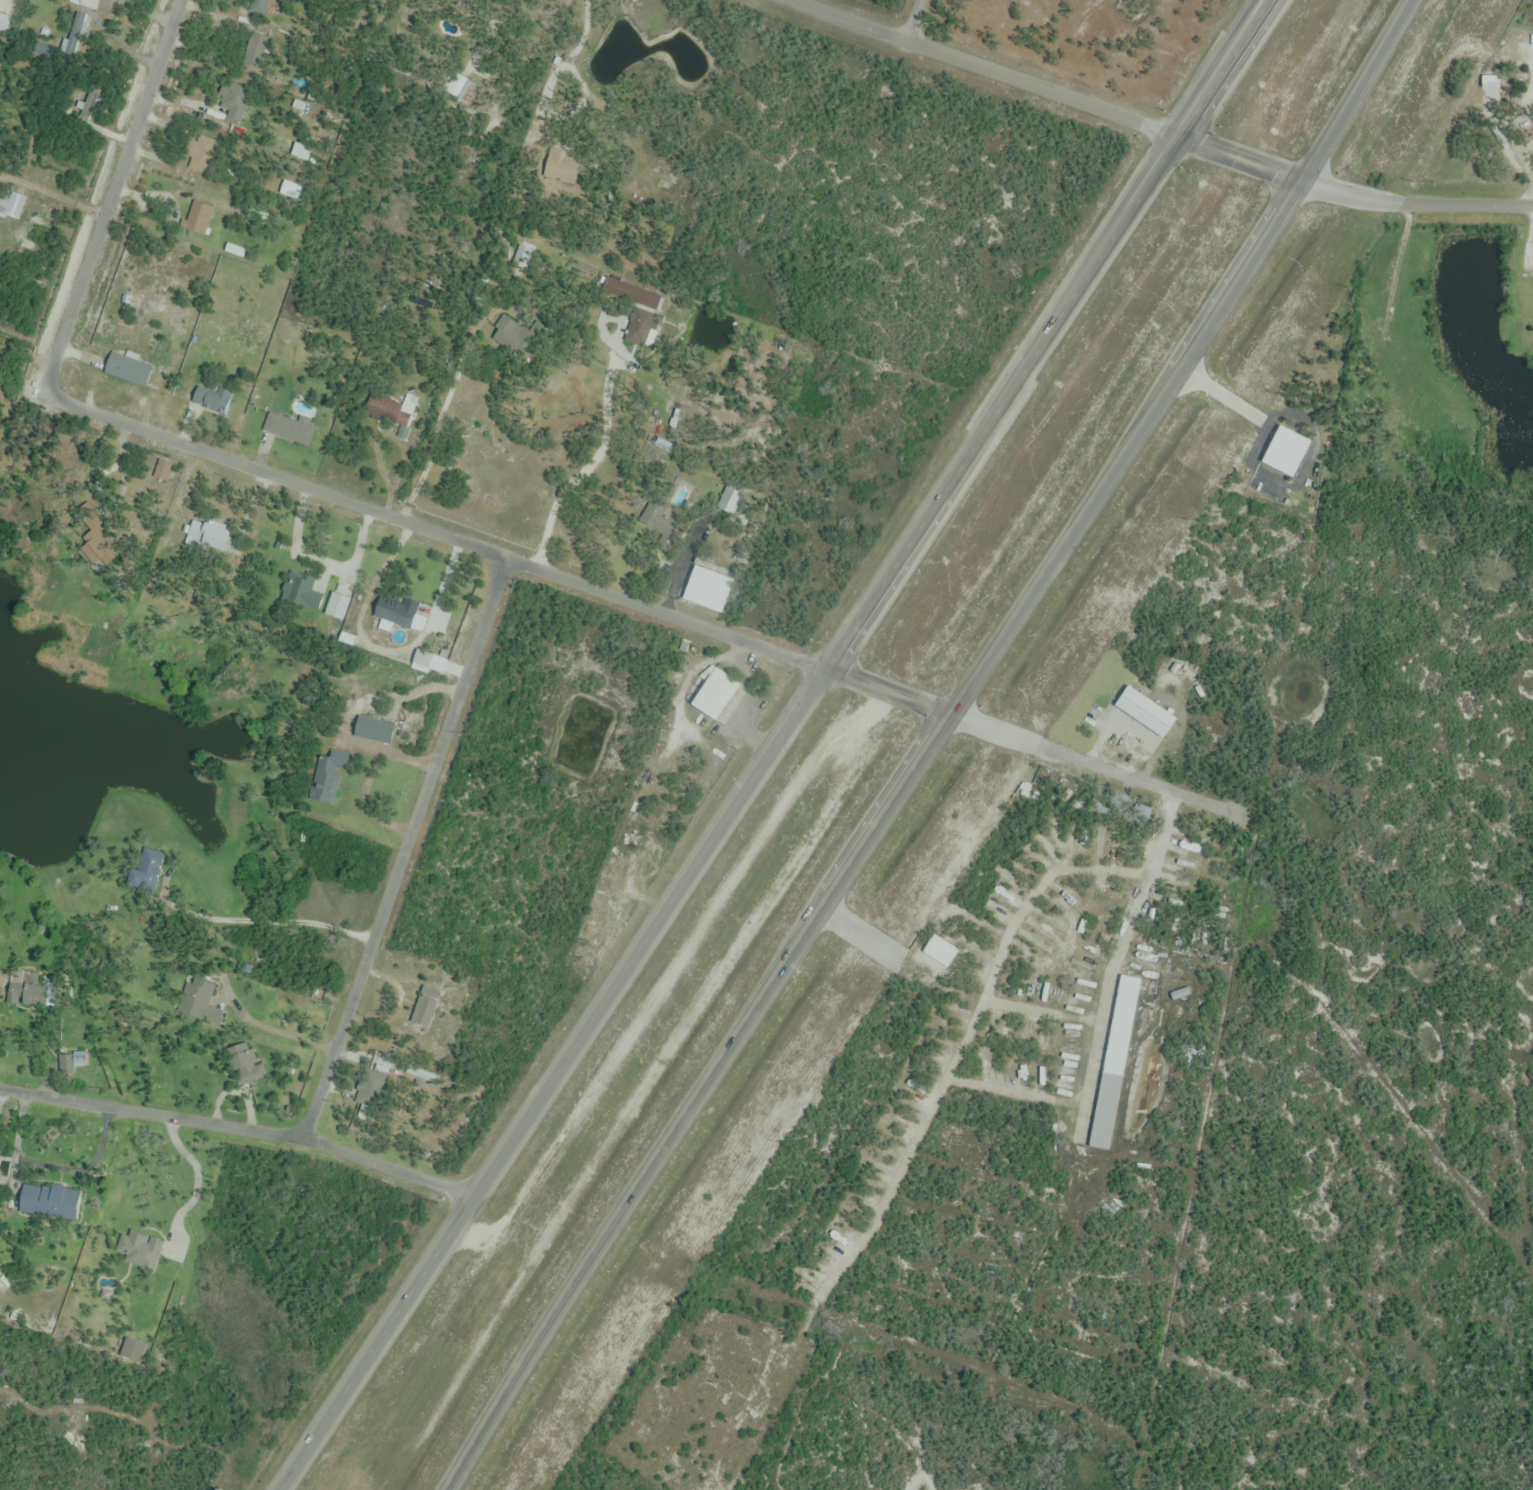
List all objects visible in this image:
building: (89, 4)
road: (915, 22)
road: (1247, 24)
building: (256, 48)
road: (979, 68)
road: (1221, 68)
building: (1490, 79)
building: (460, 90)
building: (233, 103)
building: (201, 154)
building: (562, 168)
road: (1350, 194)
building: (12, 206)
building: (202, 220)
building: (523, 261)
building: (1527, 267)
building: (631, 294)
building: (641, 324)
building: (509, 332)
road: (1185, 362)
building: (127, 370)
building: (212, 401)
building: (390, 410)
building: (289, 429)
building: (1284, 448)
building: (162, 471)
road: (299, 483)
building: (730, 501)
building: (657, 523)
building: (206, 536)
building: (705, 590)
building: (303, 592)
building: (336, 606)
building: (394, 611)
road: (378, 649)
building: (422, 660)
building: (714, 695)
building: (1142, 708)
building: (373, 731)
road: (1096, 764)
building: (329, 778)
road: (730, 815)
road: (405, 850)
building: (147, 873)
road: (265, 920)
building: (940, 952)
road: (1112, 962)
road: (1, 979)
building: (32, 996)
building: (206, 1005)
building: (425, 1007)
road: (274, 1030)
building: (1113, 1060)
building: (73, 1064)
building: (244, 1065)
road: (694, 1100)
road: (239, 1128)
road: (17, 1136)
road: (195, 1184)
building: (48, 1202)

